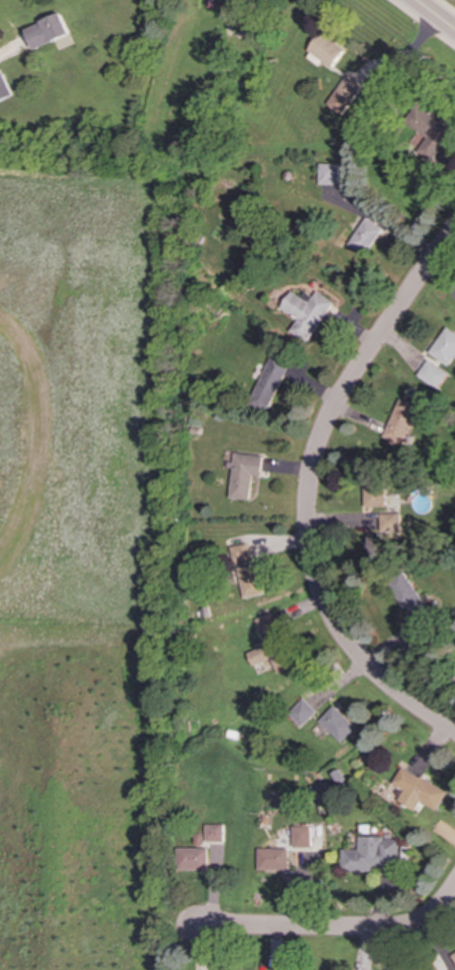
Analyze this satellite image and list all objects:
building: (221, 0)
road: (434, 15)
building: (49, 31)
building: (322, 51)
building: (4, 89)
building: (342, 95)
building: (430, 132)
building: (327, 174)
building: (364, 236)
building: (305, 312)
building: (444, 347)
building: (432, 374)
building: (274, 379)
building: (401, 422)
building: (244, 474)
road: (308, 488)
building: (376, 493)
building: (390, 523)
building: (238, 553)
quarry: (85, 564)
building: (250, 581)
building: (408, 596)
building: (266, 623)
building: (301, 712)
building: (337, 724)
building: (418, 790)
building: (213, 833)
building: (301, 836)
building: (371, 854)
building: (193, 859)
building: (272, 859)
road: (334, 927)
building: (454, 956)

